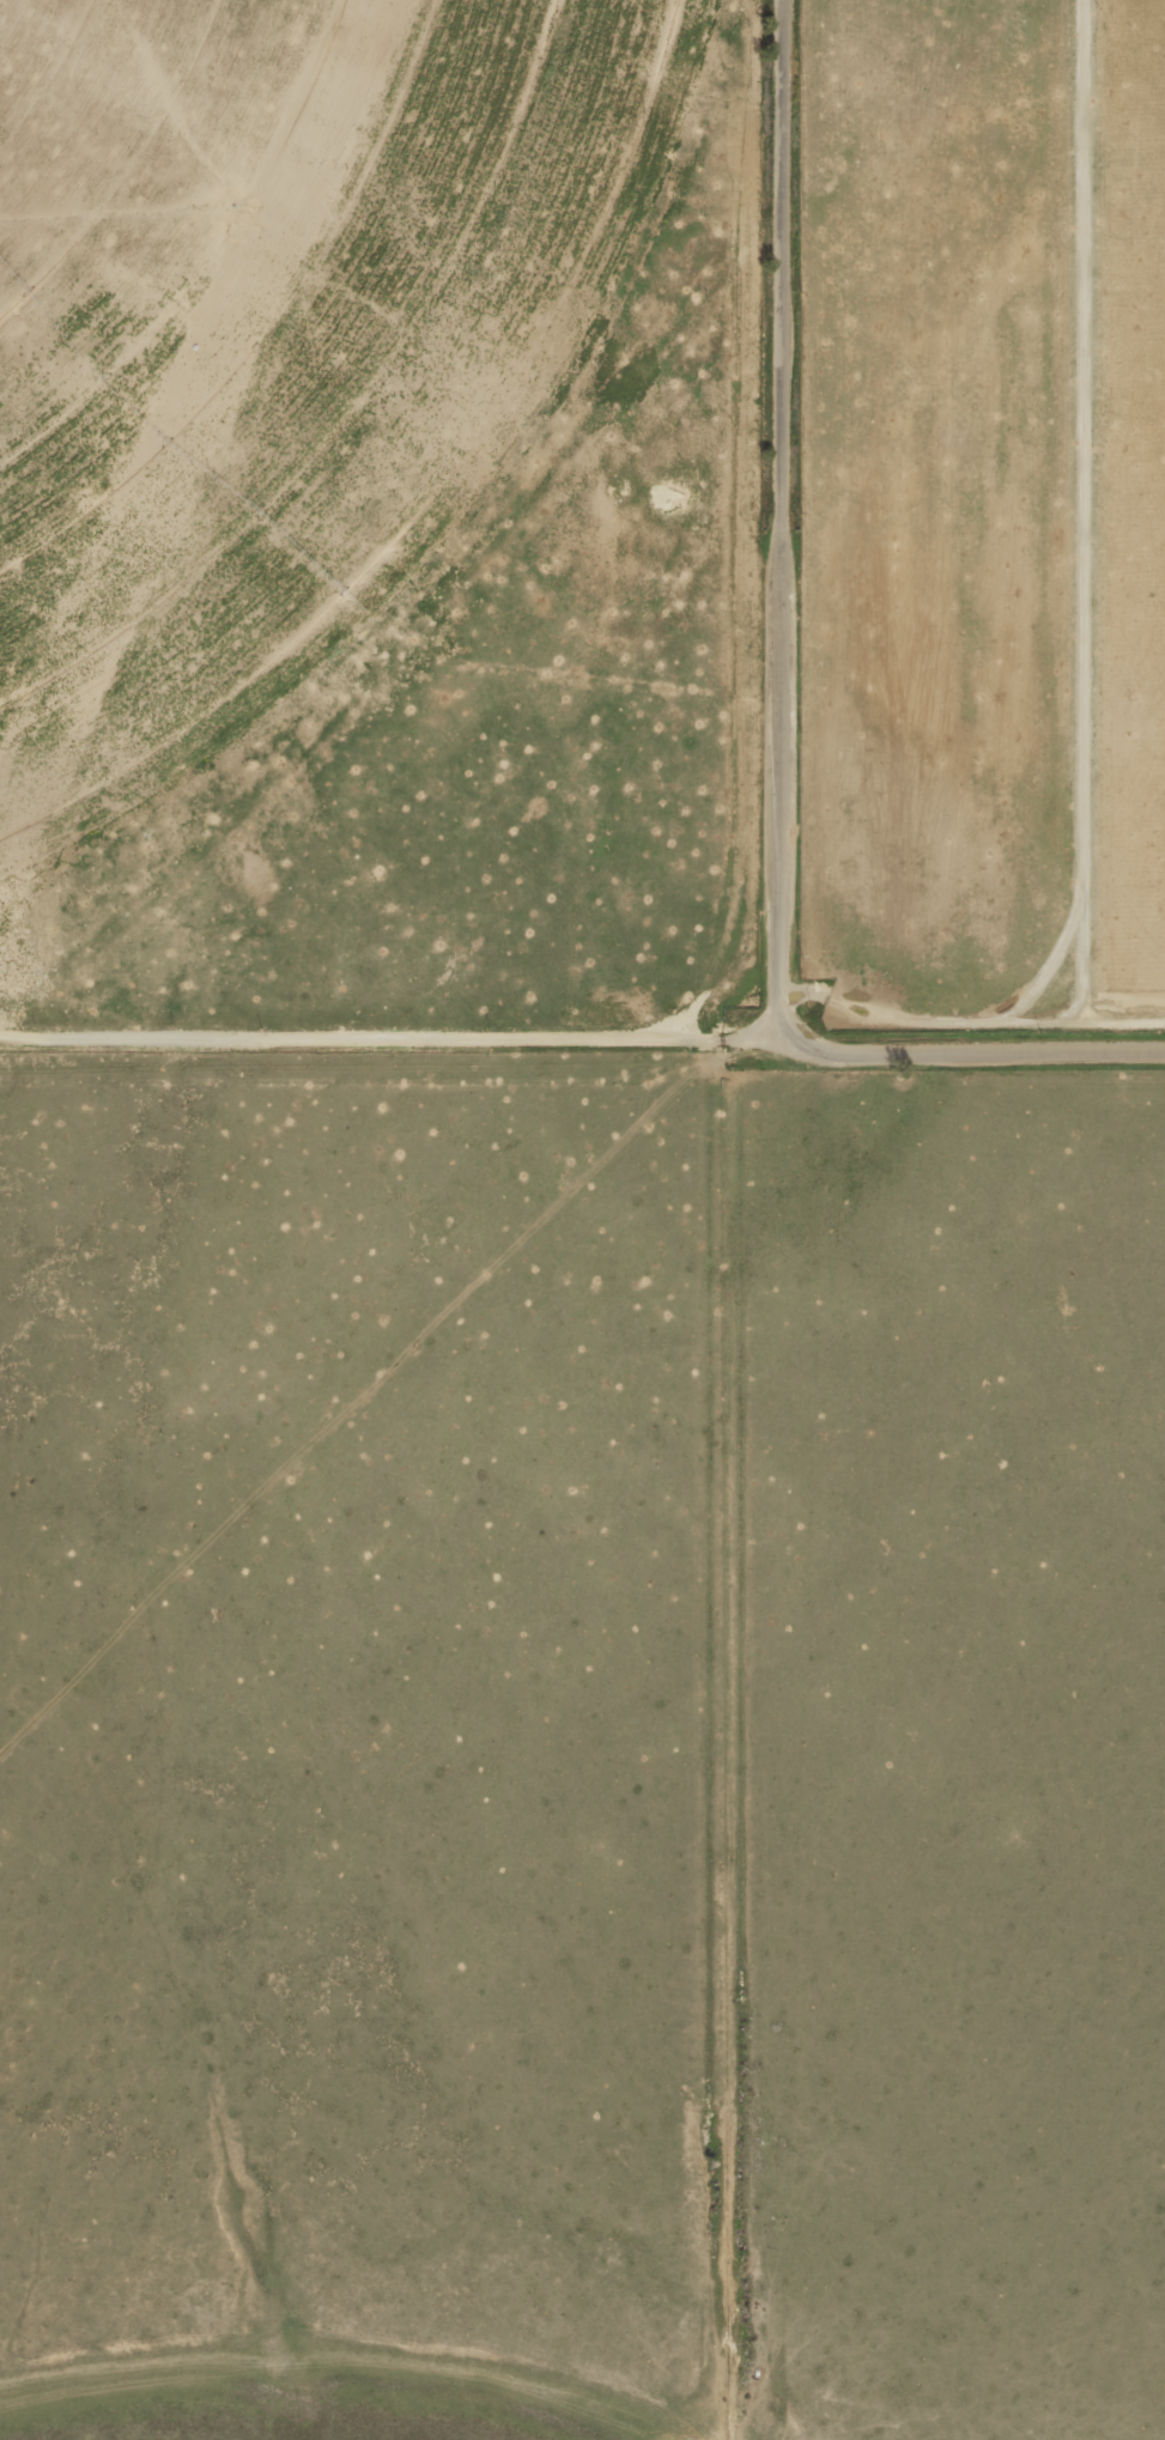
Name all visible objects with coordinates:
road: (776, 262)
road: (776, 965)

